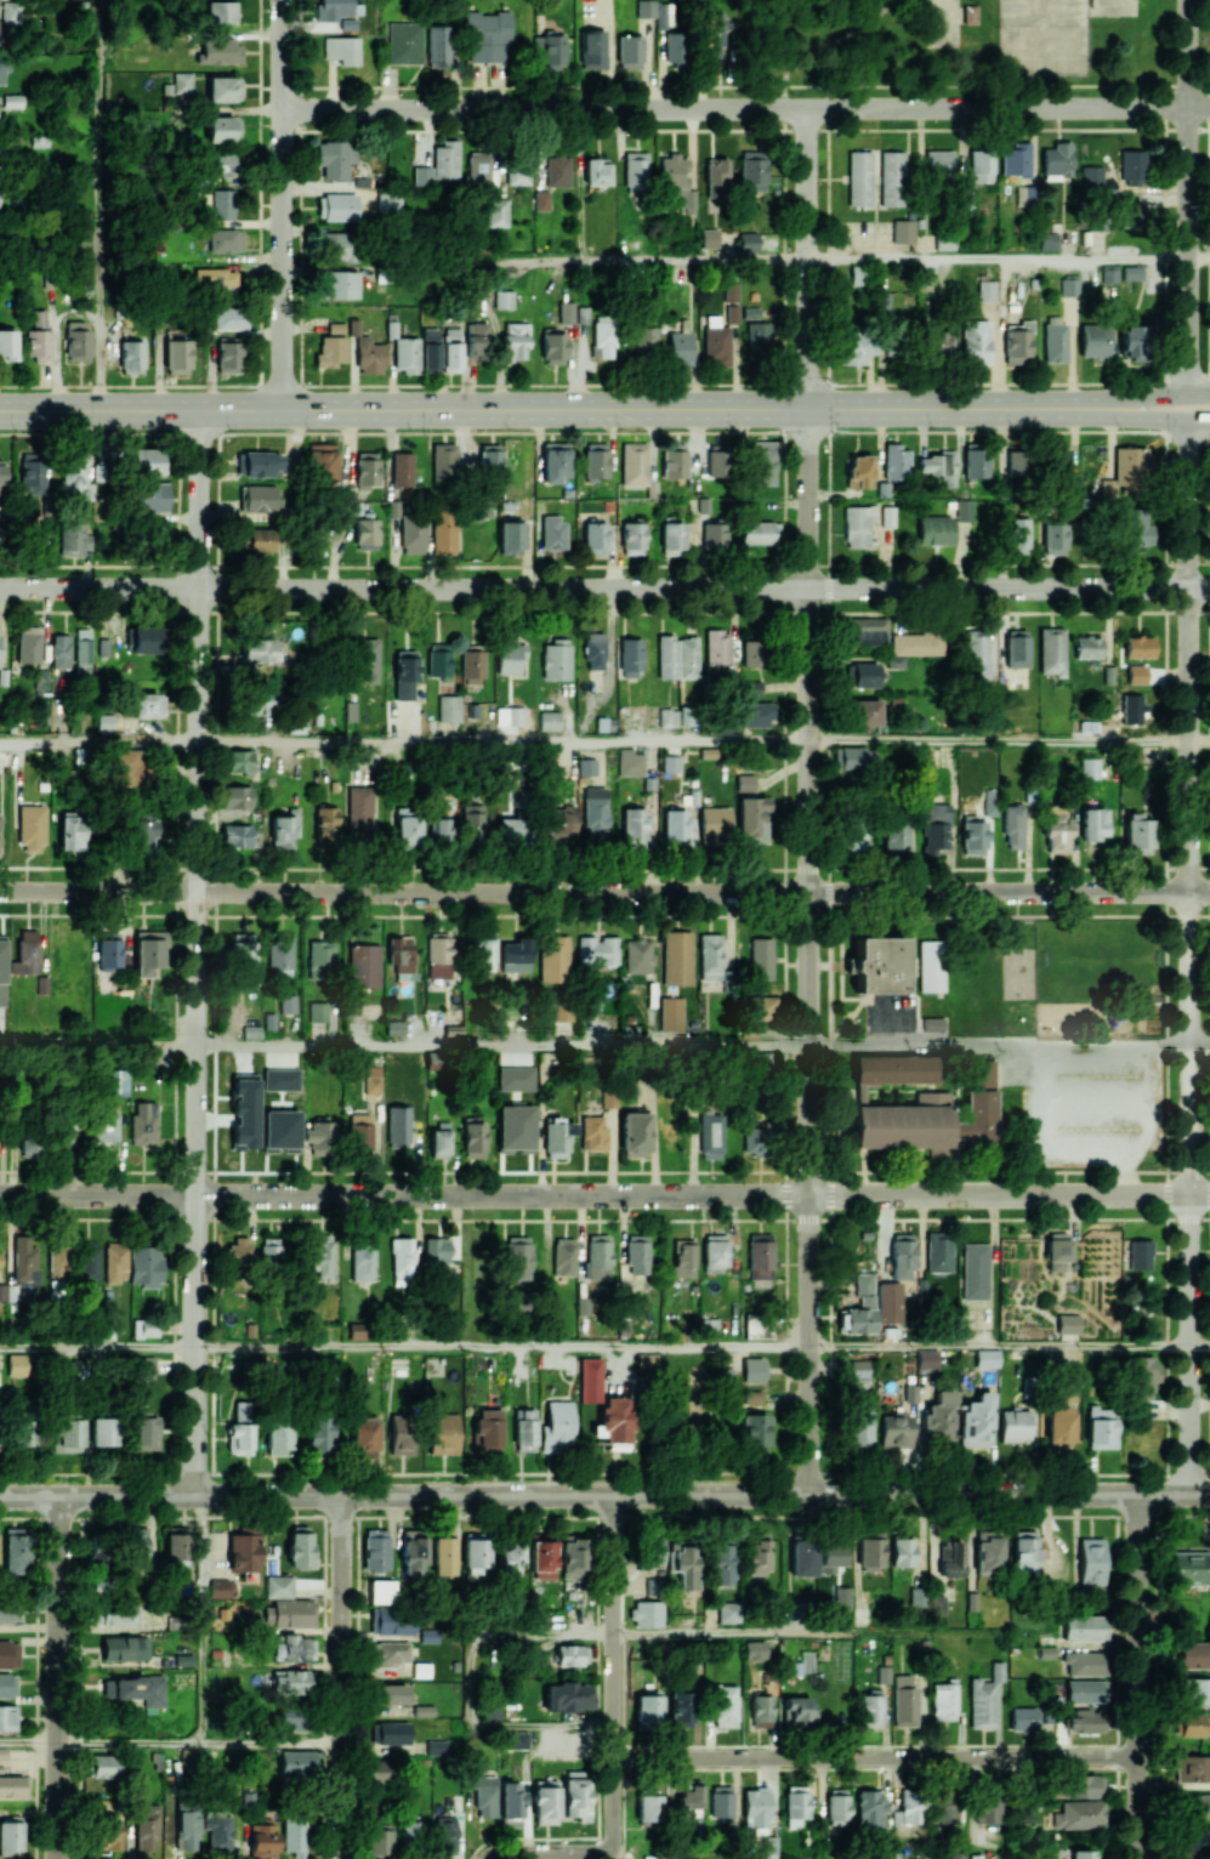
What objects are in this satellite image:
park: (1113, 7)
building: (336, 8)
building: (651, 8)
building: (221, 11)
building: (10, 12)
building: (972, 15)
park: (943, 23)
building: (487, 35)
building: (716, 35)
park: (1044, 39)
road: (835, 41)
building: (403, 42)
building: (437, 46)
building: (670, 47)
park: (958, 47)
building: (342, 49)
building: (592, 49)
building: (216, 50)
building: (553, 50)
building: (629, 51)
building: (2, 70)
building: (181, 83)
road: (987, 86)
road: (1199, 86)
road: (534, 87)
building: (223, 89)
road: (784, 97)
road: (745, 108)
building: (223, 129)
building: (334, 158)
building: (445, 159)
building: (1016, 159)
building: (1057, 160)
building: (225, 163)
building: (938, 163)
building: (981, 165)
building: (1132, 166)
building: (518, 169)
building: (635, 169)
building: (557, 171)
building: (596, 171)
building: (672, 171)
building: (752, 171)
building: (422, 172)
building: (477, 174)
building: (1091, 176)
building: (891, 177)
building: (859, 178)
building: (716, 181)
road: (1189, 197)
building: (540, 200)
building: (388, 201)
building: (223, 204)
road: (283, 204)
road: (100, 205)
building: (340, 206)
building: (496, 211)
building: (1130, 215)
building: (903, 231)
building: (709, 238)
building: (226, 240)
building: (748, 240)
building: (337, 246)
road: (808, 258)
road: (663, 260)
road: (999, 261)
road: (1199, 261)
building: (1132, 272)
building: (1108, 273)
building: (215, 279)
building: (340, 284)
building: (1068, 285)
building: (729, 290)
building: (985, 290)
building: (504, 299)
building: (566, 312)
building: (228, 318)
building: (39, 335)
building: (602, 339)
building: (644, 339)
building: (759, 339)
building: (515, 340)
building: (78, 341)
building: (477, 341)
building: (715, 341)
building: (975, 341)
building: (1093, 341)
building: (1132, 341)
building: (1055, 342)
building: (7, 343)
building: (938, 343)
building: (552, 346)
building: (851, 347)
building: (680, 348)
building: (430, 349)
building: (451, 349)
building: (330, 351)
building: (404, 353)
building: (131, 356)
building: (177, 356)
building: (228, 357)
building: (369, 357)
road: (1141, 399)
road: (535, 410)
traffic signals: (807, 410)
road: (1141, 416)
building: (489, 457)
building: (1058, 457)
building: (595, 460)
building: (146, 461)
building: (322, 462)
building: (443, 462)
building: (634, 462)
building: (715, 462)
building: (762, 462)
building: (896, 462)
building: (975, 462)
building: (1007, 462)
building: (261, 464)
building: (674, 464)
building: (1130, 465)
building: (938, 466)
building: (561, 467)
building: (367, 468)
building: (402, 468)
building: (860, 470)
building: (1, 472)
building: (32, 472)
building: (73, 478)
building: (1107, 488)
building: (153, 498)
building: (257, 498)
building: (964, 510)
building: (887, 516)
building: (858, 524)
building: (1136, 525)
building: (536, 528)
building: (935, 530)
building: (443, 531)
building: (759, 531)
building: (367, 533)
building: (553, 533)
building: (413, 534)
building: (510, 535)
building: (714, 535)
building: (1017, 535)
building: (593, 538)
building: (632, 538)
building: (672, 538)
building: (1053, 538)
building: (70, 539)
building: (260, 539)
road: (604, 589)
building: (148, 638)
building: (916, 642)
building: (28, 643)
building: (717, 647)
building: (1087, 647)
building: (1138, 647)
building: (1016, 648)
building: (259, 649)
building: (593, 649)
building: (61, 650)
building: (83, 650)
building: (1051, 650)
building: (752, 652)
building: (976, 652)
building: (510, 655)
building: (629, 656)
building: (677, 656)
building: (438, 659)
building: (555, 659)
building: (368, 661)
building: (471, 666)
building: (405, 673)
building: (864, 675)
building: (262, 701)
building: (147, 705)
building: (448, 707)
building: (1132, 709)
building: (350, 710)
building: (865, 711)
building: (755, 714)
building: (510, 716)
building: (672, 717)
building: (549, 721)
building: (110, 722)
road: (999, 740)
road: (1199, 740)
road: (98, 741)
road: (502, 741)
building: (1137, 756)
building: (857, 757)
building: (237, 760)
building: (630, 762)
building: (670, 763)
building: (586, 766)
building: (1090, 768)
building: (237, 796)
building: (989, 805)
building: (359, 812)
building: (595, 812)
building: (751, 819)
building: (471, 820)
building: (556, 820)
building: (326, 823)
building: (1093, 823)
building: (675, 824)
building: (714, 824)
building: (1013, 825)
building: (407, 826)
building: (634, 826)
building: (32, 828)
building: (936, 828)
building: (284, 829)
building: (441, 829)
building: (515, 829)
building: (1057, 830)
building: (72, 831)
building: (1137, 834)
building: (237, 835)
building: (972, 835)
building: (894, 838)
building: (854, 840)
road: (604, 889)
building: (242, 949)
building: (28, 950)
building: (107, 950)
building: (148, 950)
building: (596, 950)
building: (483, 951)
road: (808, 951)
building: (280, 953)
building: (401, 953)
road: (195, 954)
building: (515, 954)
building: (637, 955)
building: (438, 956)
building: (709, 956)
road: (1189, 956)
building: (676, 957)
building: (320, 959)
building: (761, 959)
building: (553, 960)
building: (364, 965)
building: (877, 965)
building: (931, 965)
building: (407, 976)
building: (288, 1004)
building: (761, 1007)
building: (910, 1010)
building: (318, 1011)
building: (670, 1013)
building: (394, 1027)
road: (97, 1044)
road: (1199, 1045)
road: (502, 1046)
road: (999, 1046)
building: (894, 1068)
building: (280, 1079)
building: (371, 1079)
building: (115, 1081)
building: (931, 1116)
building: (104, 1121)
building: (143, 1124)
building: (398, 1126)
building: (516, 1127)
building: (279, 1129)
building: (359, 1131)
building: (591, 1132)
building: (67, 1133)
building: (634, 1133)
building: (239, 1136)
building: (319, 1136)
building: (710, 1136)
building: (473, 1137)
building: (556, 1137)
building: (760, 1137)
building: (439, 1139)
building: (29, 1145)
road: (604, 1193)
building: (271, 1250)
building: (437, 1250)
building: (1057, 1250)
building: (239, 1251)
building: (715, 1252)
building: (938, 1252)
building: (1140, 1253)
building: (23, 1255)
building: (322, 1255)
building: (637, 1255)
building: (902, 1255)
building: (362, 1256)
building: (563, 1256)
building: (597, 1256)
building: (760, 1256)
building: (517, 1257)
building: (683, 1257)
building: (114, 1260)
building: (402, 1261)
building: (87, 1262)
building: (144, 1266)
building: (975, 1270)
building: (890, 1303)
building: (860, 1307)
building: (1068, 1324)
building: (144, 1328)
building: (757, 1328)
road: (999, 1346)
road: (1199, 1346)
road: (97, 1347)
road: (501, 1347)
building: (927, 1358)
building: (987, 1358)
building: (647, 1360)
building: (17, 1364)
building: (144, 1366)
building: (752, 1370)
building: (76, 1372)
building: (859, 1374)
building: (1147, 1374)
building: (752, 1397)
building: (606, 1406)
park: (692, 1410)
building: (939, 1417)
building: (978, 1421)
building: (1016, 1423)
building: (556, 1426)
building: (858, 1426)
building: (1060, 1426)
building: (691, 1427)
building: (1101, 1427)
building: (754, 1428)
building: (524, 1429)
building: (896, 1429)
building: (103, 1431)
building: (485, 1431)
building: (24, 1432)
building: (146, 1432)
building: (240, 1433)
building: (402, 1433)
building: (443, 1433)
building: (67, 1434)
building: (278, 1437)
building: (364, 1437)
road: (604, 1495)
road: (527, 1520)
building: (175, 1544)
building: (142, 1547)
building: (299, 1548)
building: (376, 1548)
building: (16, 1550)
building: (244, 1550)
building: (655, 1550)
building: (869, 1550)
building: (443, 1551)
building: (476, 1551)
building: (902, 1551)
building: (1026, 1551)
building: (413, 1552)
building: (98, 1553)
building: (510, 1553)
building: (988, 1553)
building: (541, 1554)
building: (756, 1554)
building: (802, 1556)
building: (573, 1557)
building: (950, 1557)
building: (1091, 1560)
building: (721, 1562)
building: (684, 1563)
building: (1191, 1567)
building: (278, 1586)
building: (221, 1587)
building: (381, 1591)
building: (919, 1594)
building: (10, 1611)
building: (729, 1611)
building: (120, 1613)
building: (294, 1613)
building: (647, 1613)
road: (201, 1620)
building: (393, 1621)
building: (1083, 1627)
road: (757, 1635)
road: (1101, 1644)
building: (1046, 1645)
building: (125, 1648)
building: (294, 1648)
building: (755, 1650)
building: (392, 1652)
building: (8, 1654)
building: (572, 1655)
building: (1194, 1655)
building: (1083, 1664)
road: (614, 1673)
road: (1137, 1676)
road: (342, 1677)
road: (58, 1678)
building: (291, 1681)
road: (472, 1681)
building: (7, 1684)
building: (140, 1688)
building: (1086, 1690)
building: (1195, 1690)
building: (392, 1693)
building: (566, 1695)
building: (944, 1700)
building: (904, 1701)
building: (982, 1704)
building: (725, 1706)
building: (681, 1709)
building: (870, 1709)
building: (422, 1710)
building: (492, 1710)
building: (649, 1710)
building: (761, 1710)
building: (797, 1711)
building: (7, 1717)
building: (290, 1717)
building: (1023, 1718)
building: (1084, 1721)
building: (1192, 1724)
building: (390, 1733)
building: (518, 1739)
road: (29, 1741)
road: (130, 1743)
road: (272, 1743)
building: (436, 1746)
building: (189, 1757)
road: (875, 1757)
building: (299, 1762)
building: (106, 1764)
building: (1193, 1768)
building: (379, 1770)
building: (11, 1786)
building: (1084, 1786)
building: (575, 1793)
building: (691, 1793)
building: (483, 1795)
building: (545, 1801)
building: (721, 1802)
building: (510, 1803)
building: (1199, 1804)
building: (648, 1806)
building: (795, 1806)
building: (837, 1806)
building: (945, 1807)
building: (988, 1808)
building: (756, 1809)
building: (870, 1809)
building: (908, 1809)
building: (1078, 1814)
building: (144, 1826)
building: (186, 1830)
building: (108, 1831)
building: (411, 1831)
building: (218, 1832)
building: (11, 1834)
building: (444, 1835)
building: (294, 1836)
building: (262, 1840)
building: (377, 1841)
building: (1195, 1842)
building: (769, 1847)
road: (549, 1852)
building: (1081, 1854)

